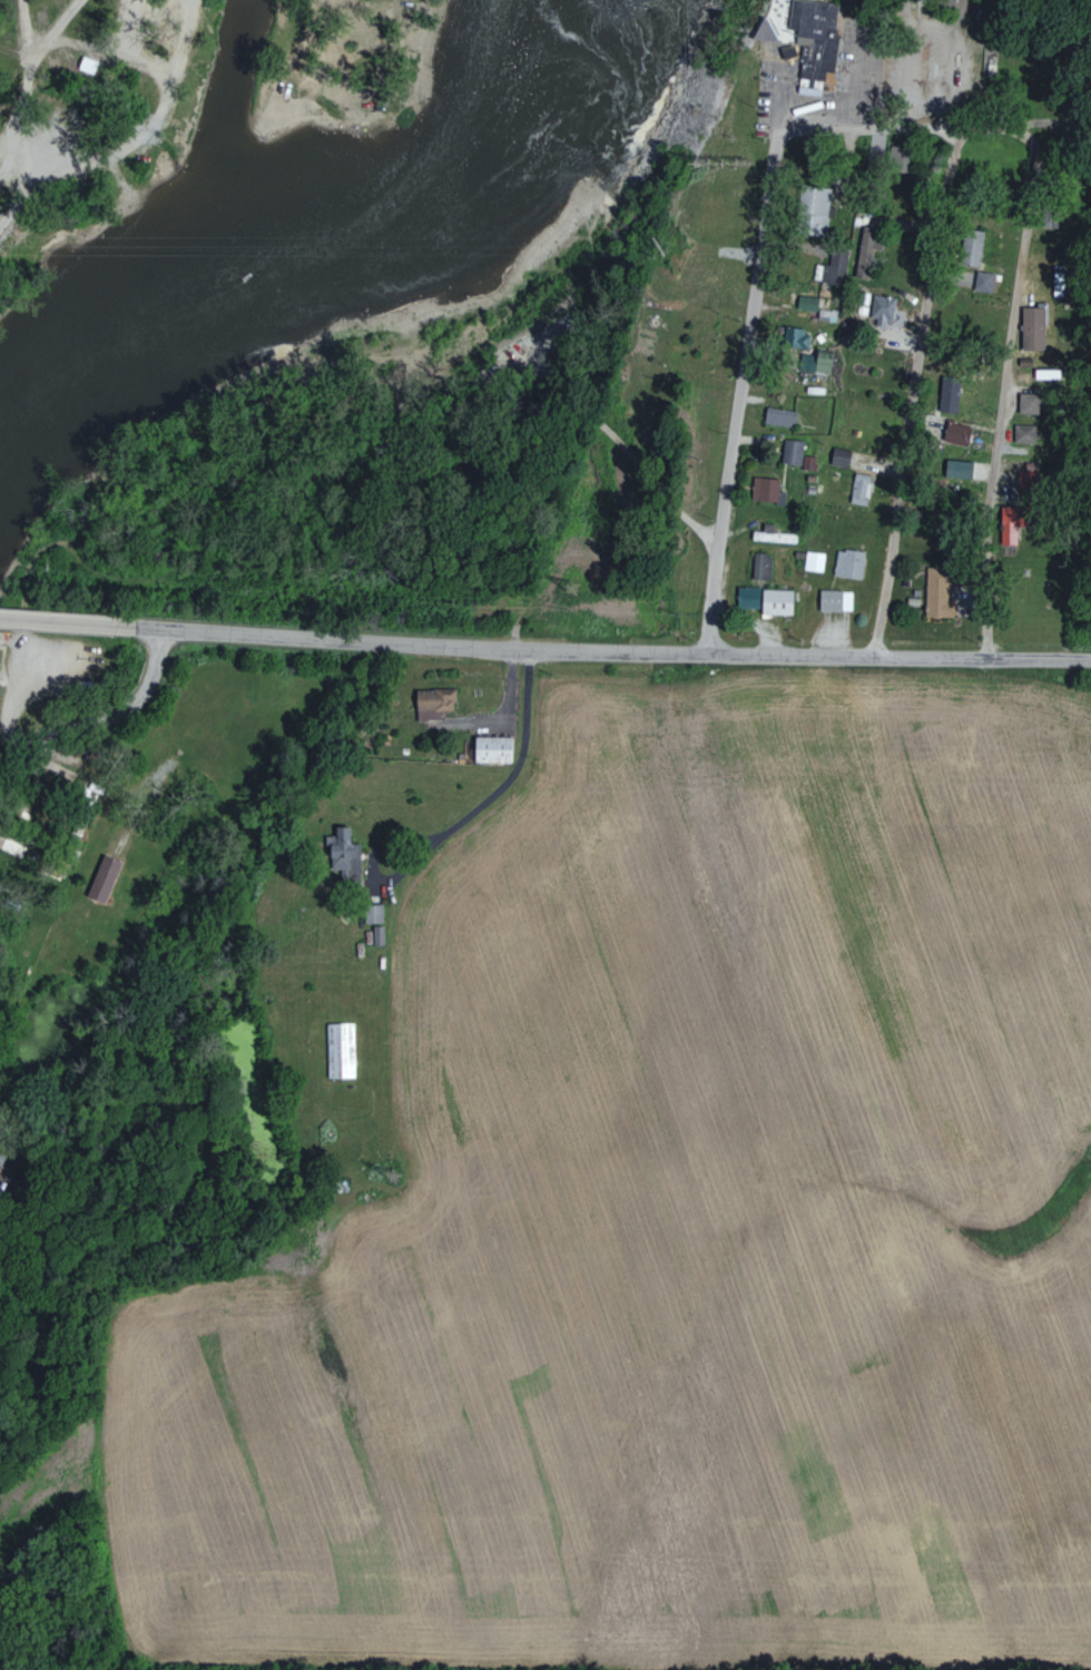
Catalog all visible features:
road: (20, 29)
building: (814, 35)
road: (844, 76)
road: (943, 89)
road: (26, 100)
road: (966, 122)
building: (812, 209)
building: (866, 244)
building: (971, 247)
building: (830, 267)
river: (294, 269)
building: (983, 281)
building: (806, 302)
building: (862, 302)
building: (882, 310)
road: (557, 322)
building: (1031, 328)
building: (795, 337)
building: (815, 361)
road: (748, 363)
road: (1006, 384)
road: (915, 390)
building: (947, 395)
building: (1028, 403)
building: (779, 416)
building: (955, 433)
building: (1024, 433)
building: (792, 452)
building: (839, 456)
building: (807, 462)
building: (859, 488)
building: (764, 489)
building: (1008, 524)
building: (771, 533)
building: (813, 560)
building: (848, 562)
building: (760, 564)
building: (938, 591)
building: (765, 599)
building: (834, 599)
road: (78, 622)
road: (622, 650)
parking lot: (21, 659)
building: (432, 701)
road: (97, 713)
building: (492, 748)
road: (514, 760)
building: (343, 853)
road: (389, 873)
building: (102, 877)
building: (372, 913)
building: (377, 934)
building: (340, 1049)

